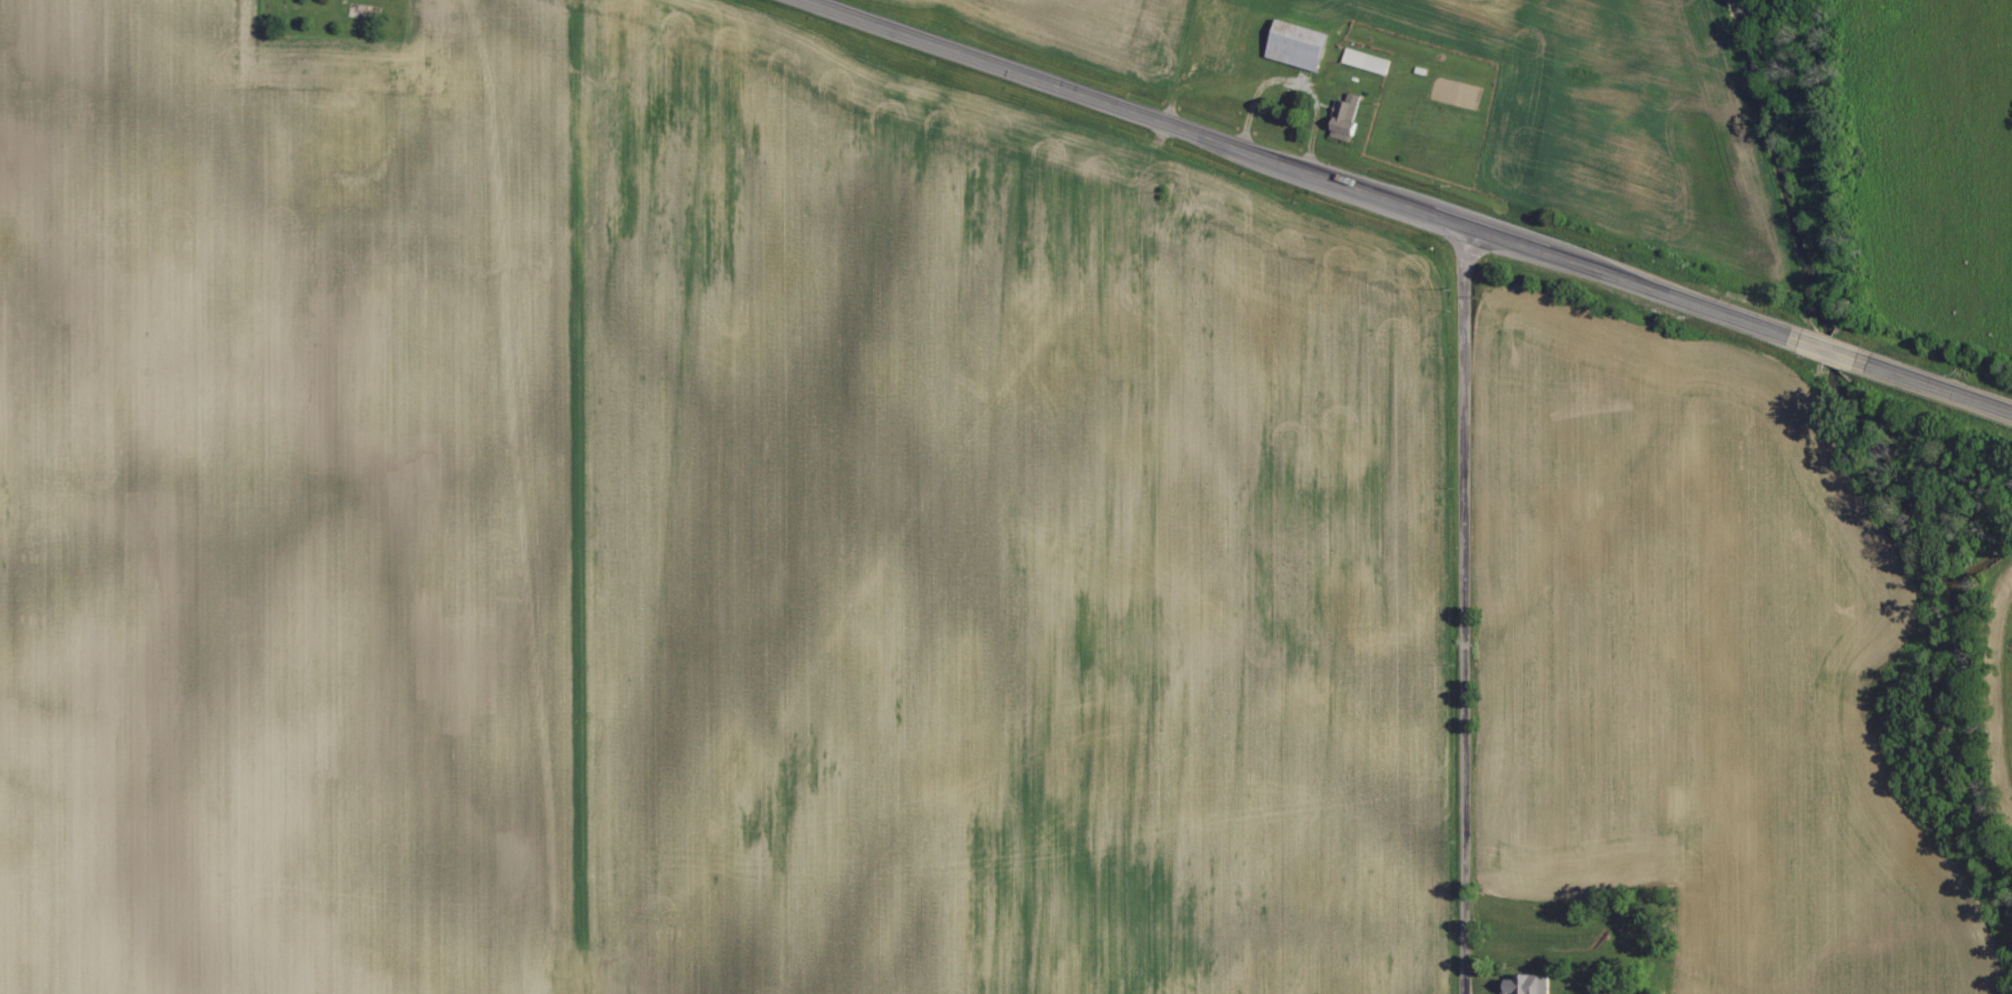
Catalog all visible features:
building: (1301, 44)
building: (1369, 60)
building: (1349, 117)
road: (1302, 168)
road: (1828, 348)
road: (1934, 384)
road: (1464, 609)
building: (1531, 985)

